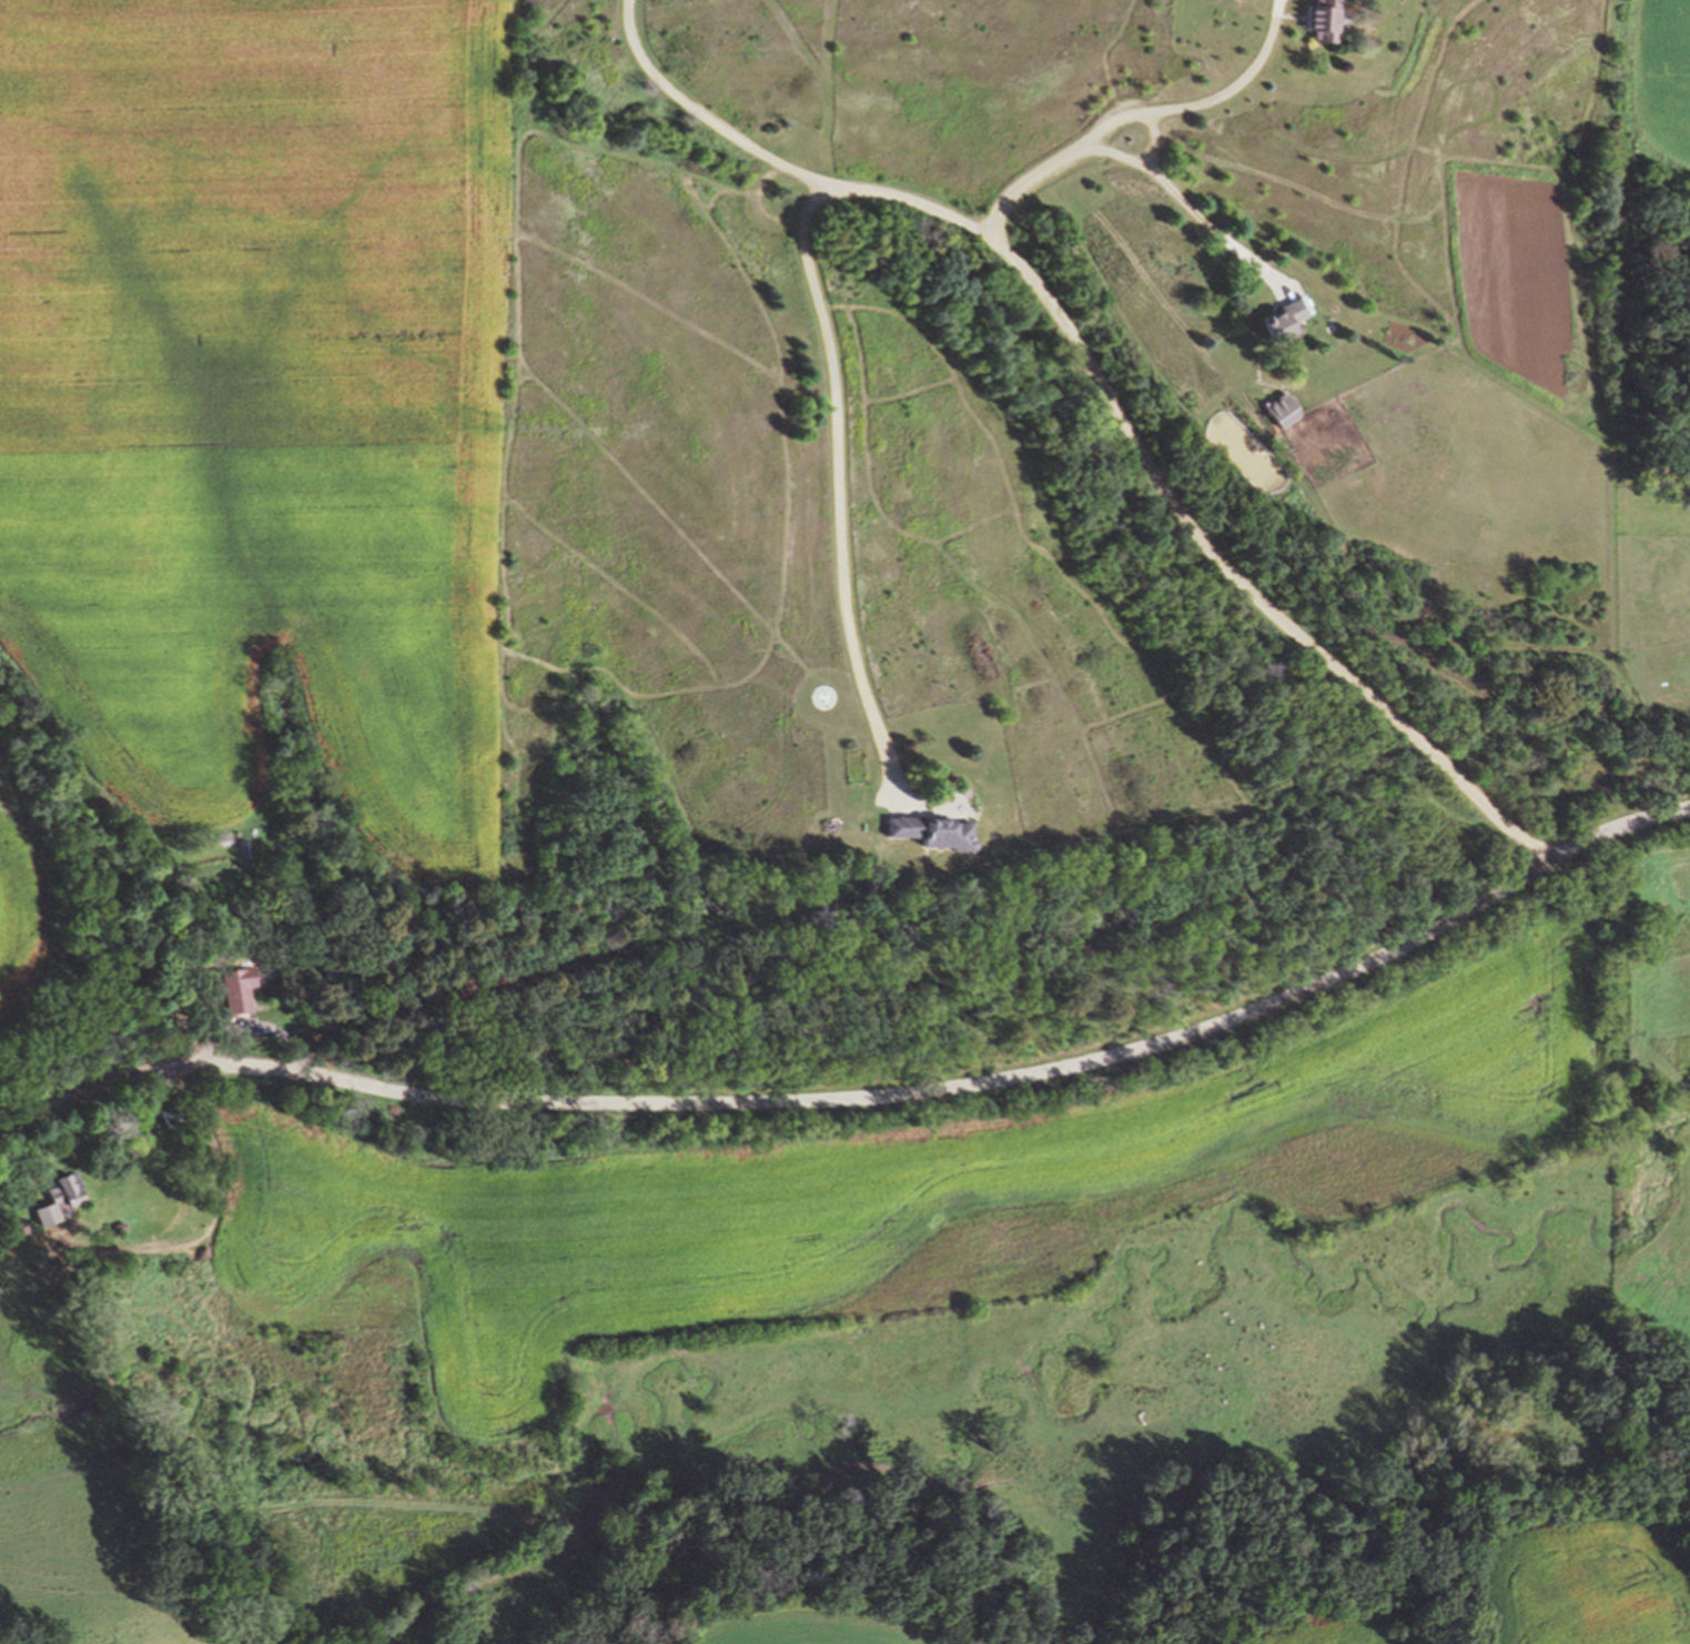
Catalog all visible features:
building: (1330, 26)
road: (1143, 115)
road: (1119, 154)
road: (760, 205)
road: (1200, 214)
building: (1288, 327)
road: (1103, 390)
building: (1282, 414)
road: (834, 483)
building: (932, 837)
building: (240, 1000)
road: (861, 1102)
building: (169, 1115)
building: (69, 1199)
building: (14, 1229)

